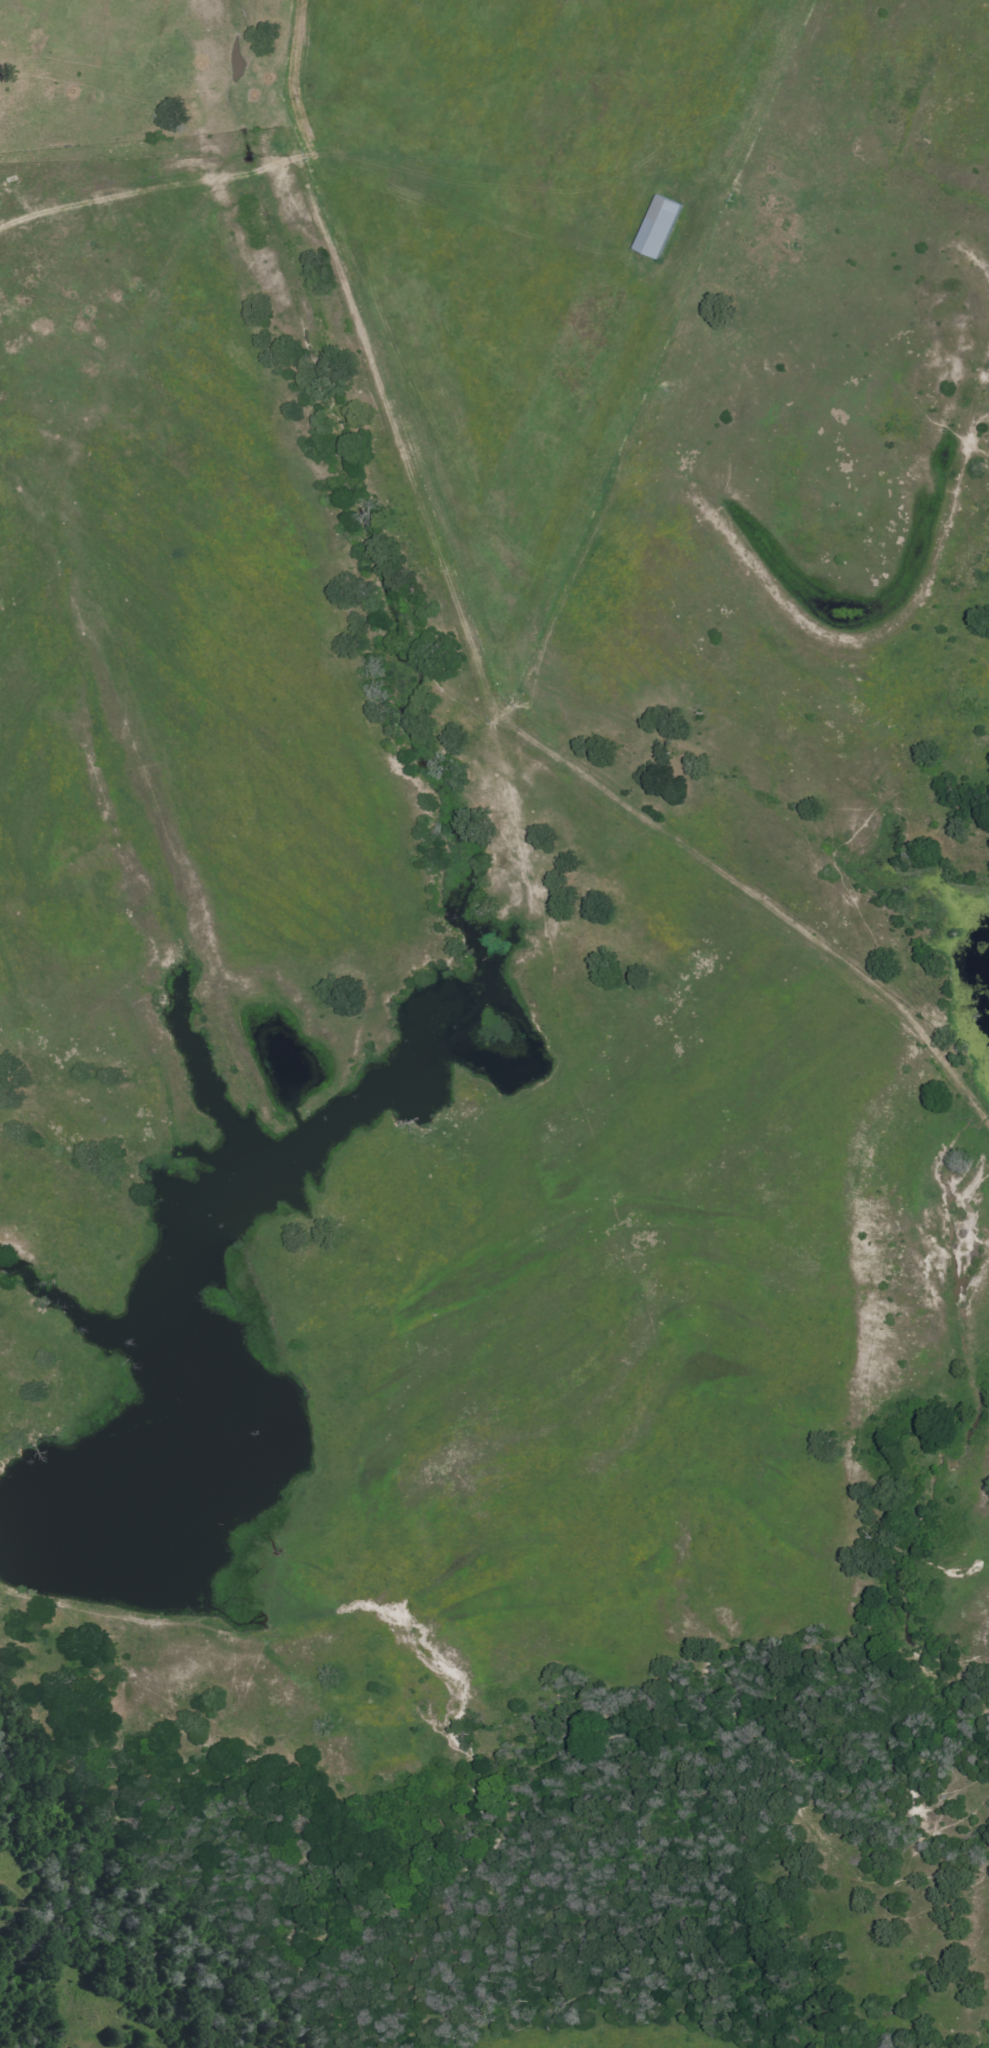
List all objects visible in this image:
building: (662, 227)

